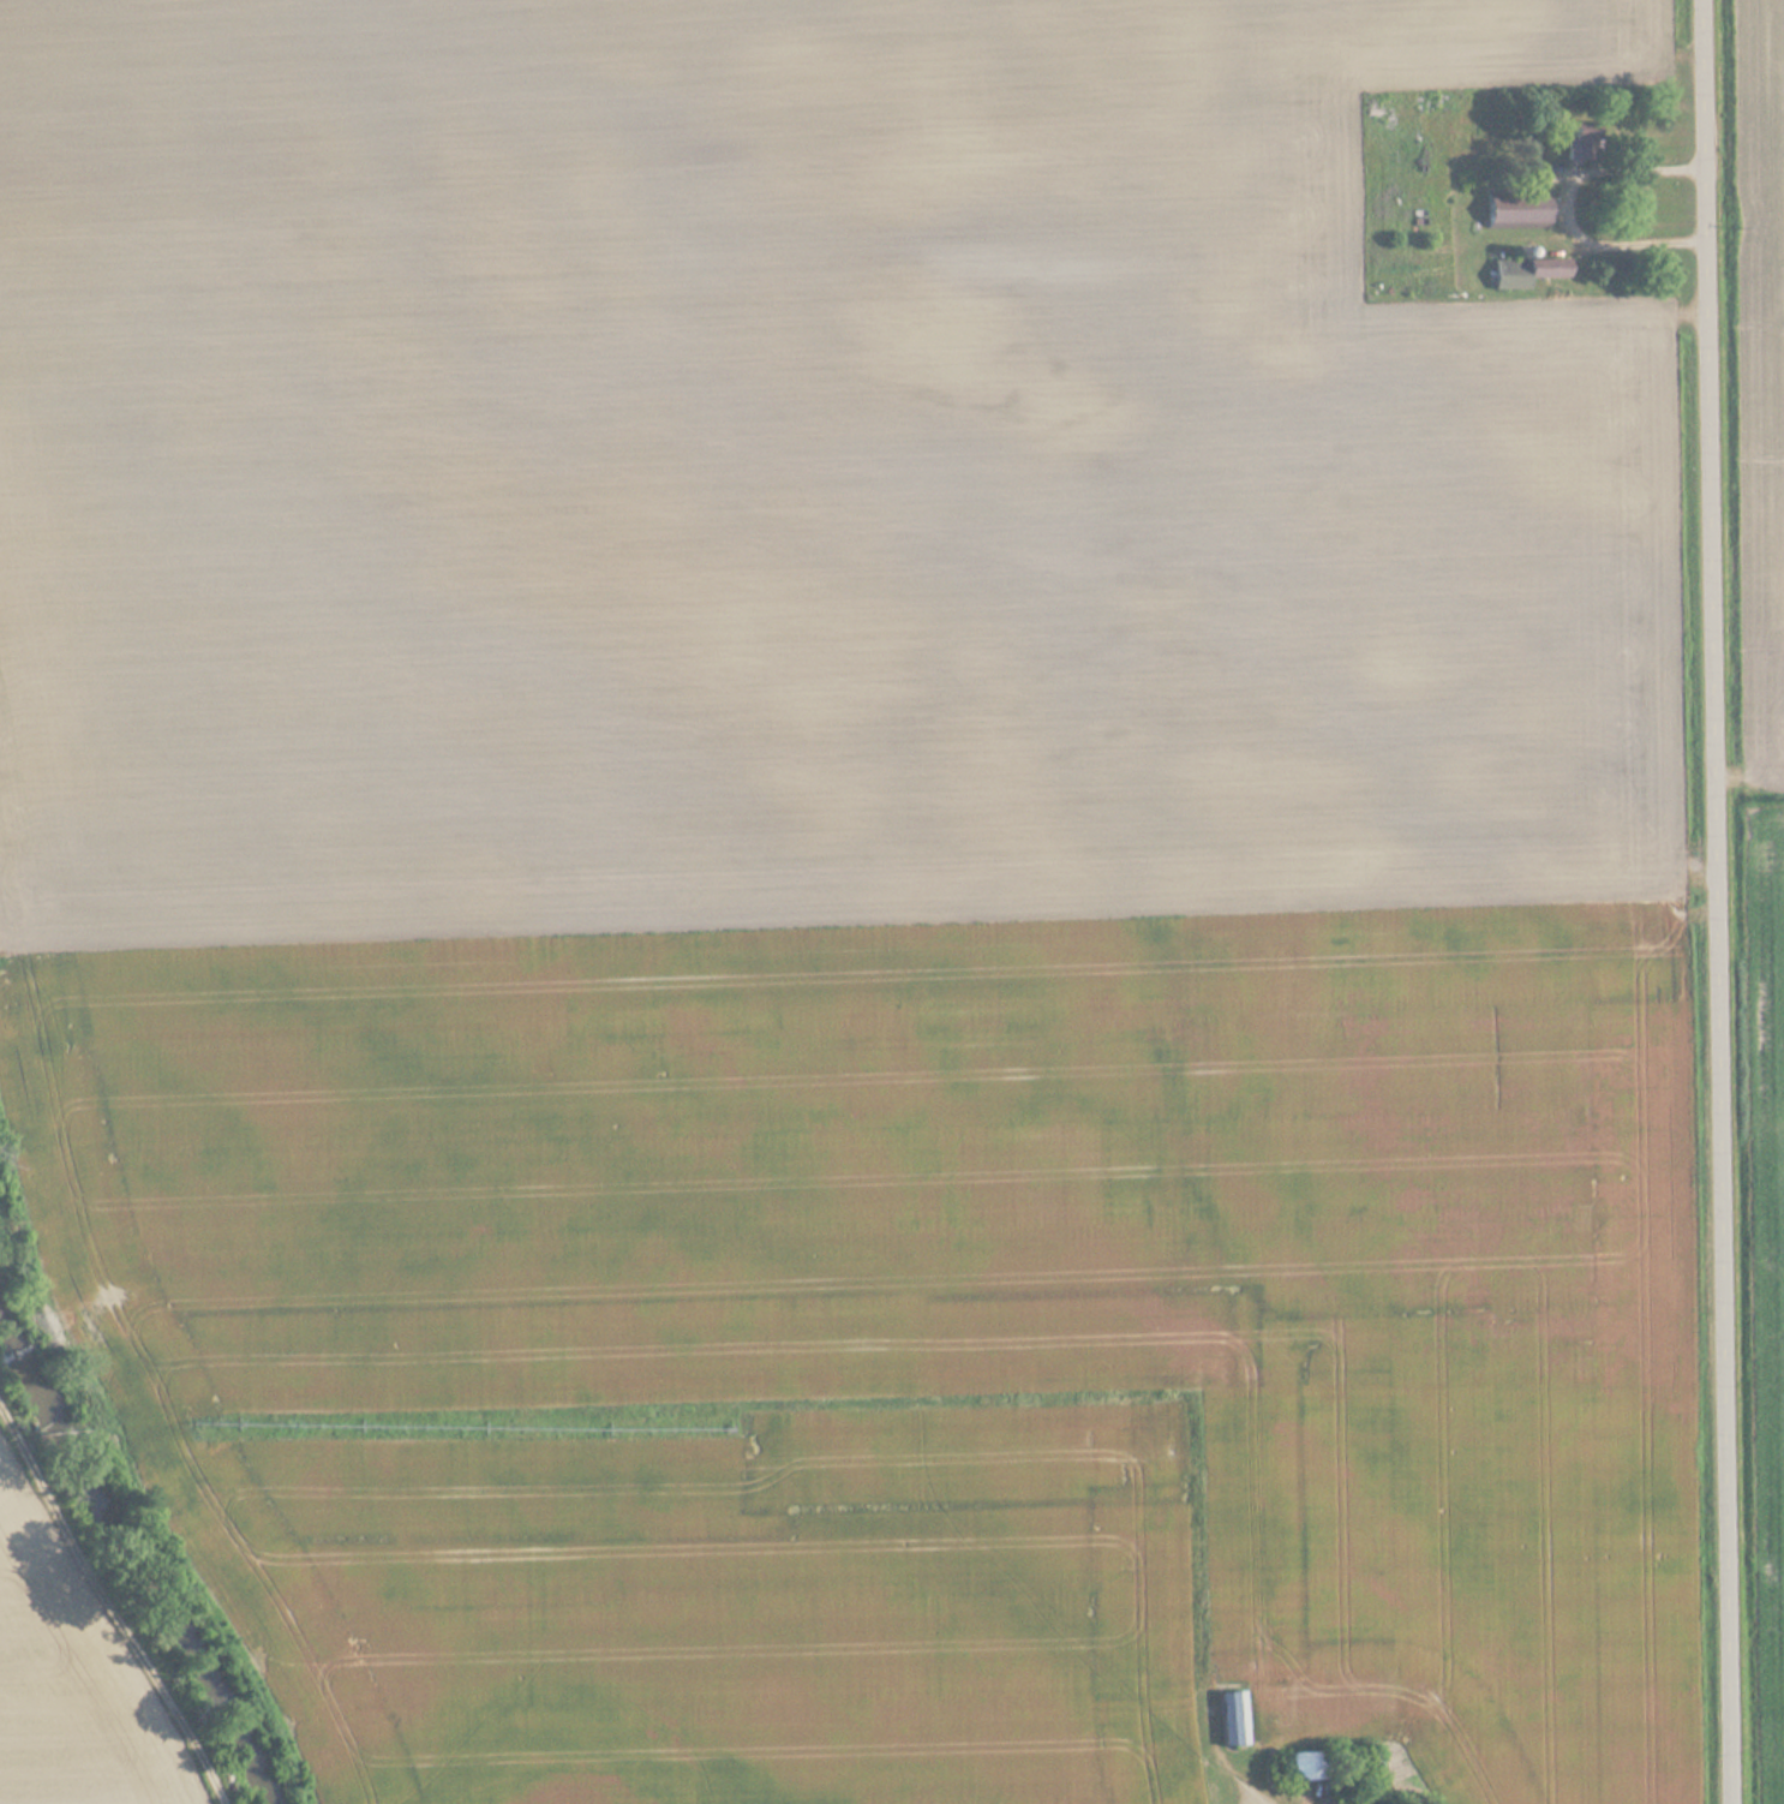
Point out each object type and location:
building: (1581, 145)
building: (1517, 211)
building: (1527, 271)
road: (1719, 902)
river: (134, 1554)
building: (1233, 1719)
building: (1307, 1767)

